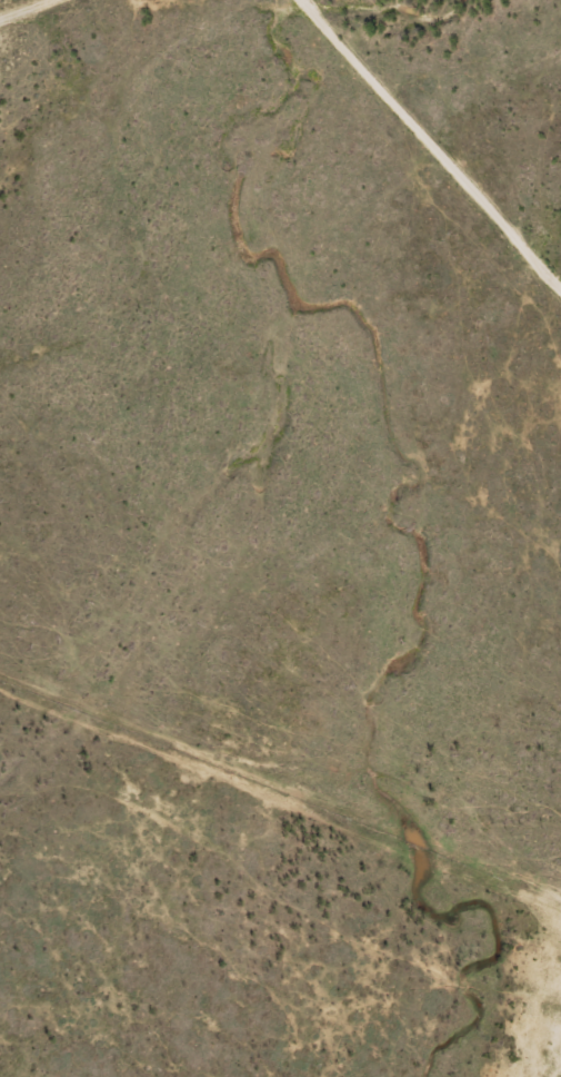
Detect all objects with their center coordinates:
road: (405, 171)
road: (279, 771)

